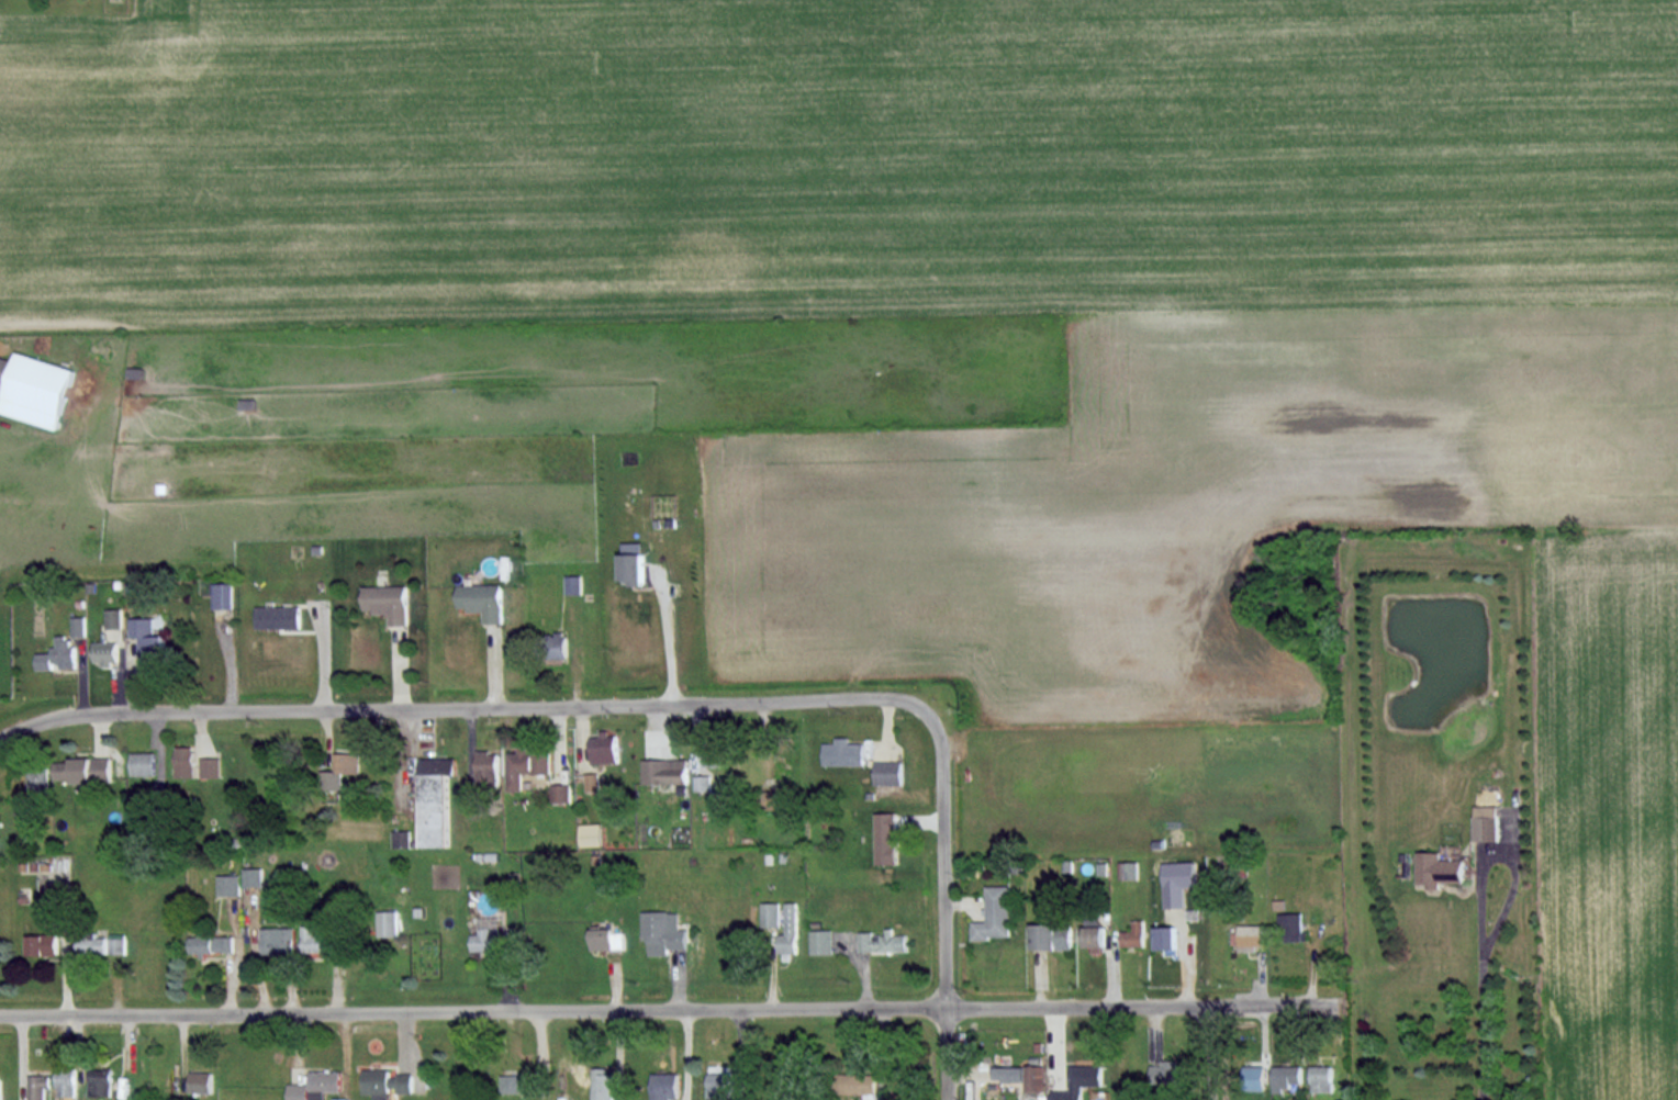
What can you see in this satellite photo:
building: (4, 368)
building: (37, 390)
building: (635, 562)
building: (573, 584)
building: (223, 595)
building: (484, 599)
building: (390, 602)
building: (280, 617)
building: (114, 618)
building: (79, 626)
building: (149, 642)
building: (561, 644)
building: (107, 652)
building: (58, 655)
road: (463, 706)
building: (604, 748)
building: (843, 752)
building: (712, 753)
building: (186, 761)
building: (144, 763)
building: (526, 765)
building: (211, 766)
building: (488, 767)
building: (83, 770)
building: (340, 770)
building: (664, 771)
building: (888, 772)
building: (38, 778)
building: (592, 782)
building: (703, 783)
crop: (1617, 790)
building: (561, 793)
building: (435, 799)
building: (24, 810)
building: (1486, 822)
building: (591, 833)
building: (886, 838)
building: (402, 839)
road: (1494, 852)
building: (1128, 869)
building: (1439, 869)
building: (254, 876)
building: (1177, 882)
building: (230, 885)
road: (942, 905)
building: (770, 914)
building: (995, 914)
building: (388, 922)
building: (1293, 927)
building: (788, 930)
building: (662, 931)
building: (1133, 934)
building: (1052, 935)
building: (1251, 936)
building: (1166, 938)
building: (601, 939)
building: (1095, 939)
building: (278, 940)
building: (485, 940)
building: (318, 941)
building: (820, 941)
building: (881, 941)
building: (118, 943)
building: (213, 943)
building: (43, 944)
building: (92, 945)
road: (669, 1007)
road: (1475, 1024)
road: (1210, 1052)
building: (1167, 1071)
building: (1009, 1073)
building: (1254, 1076)
building: (1286, 1076)
building: (1036, 1077)
building: (1321, 1078)
building: (66, 1081)
building: (100, 1081)
building: (200, 1081)
building: (1078, 1081)
building: (323, 1082)
building: (384, 1082)
building: (515, 1082)
building: (720, 1082)
building: (857, 1082)
building: (602, 1085)
building: (37, 1086)
building: (663, 1086)
building: (0, 1088)
building: (298, 1091)
building: (343, 1099)

